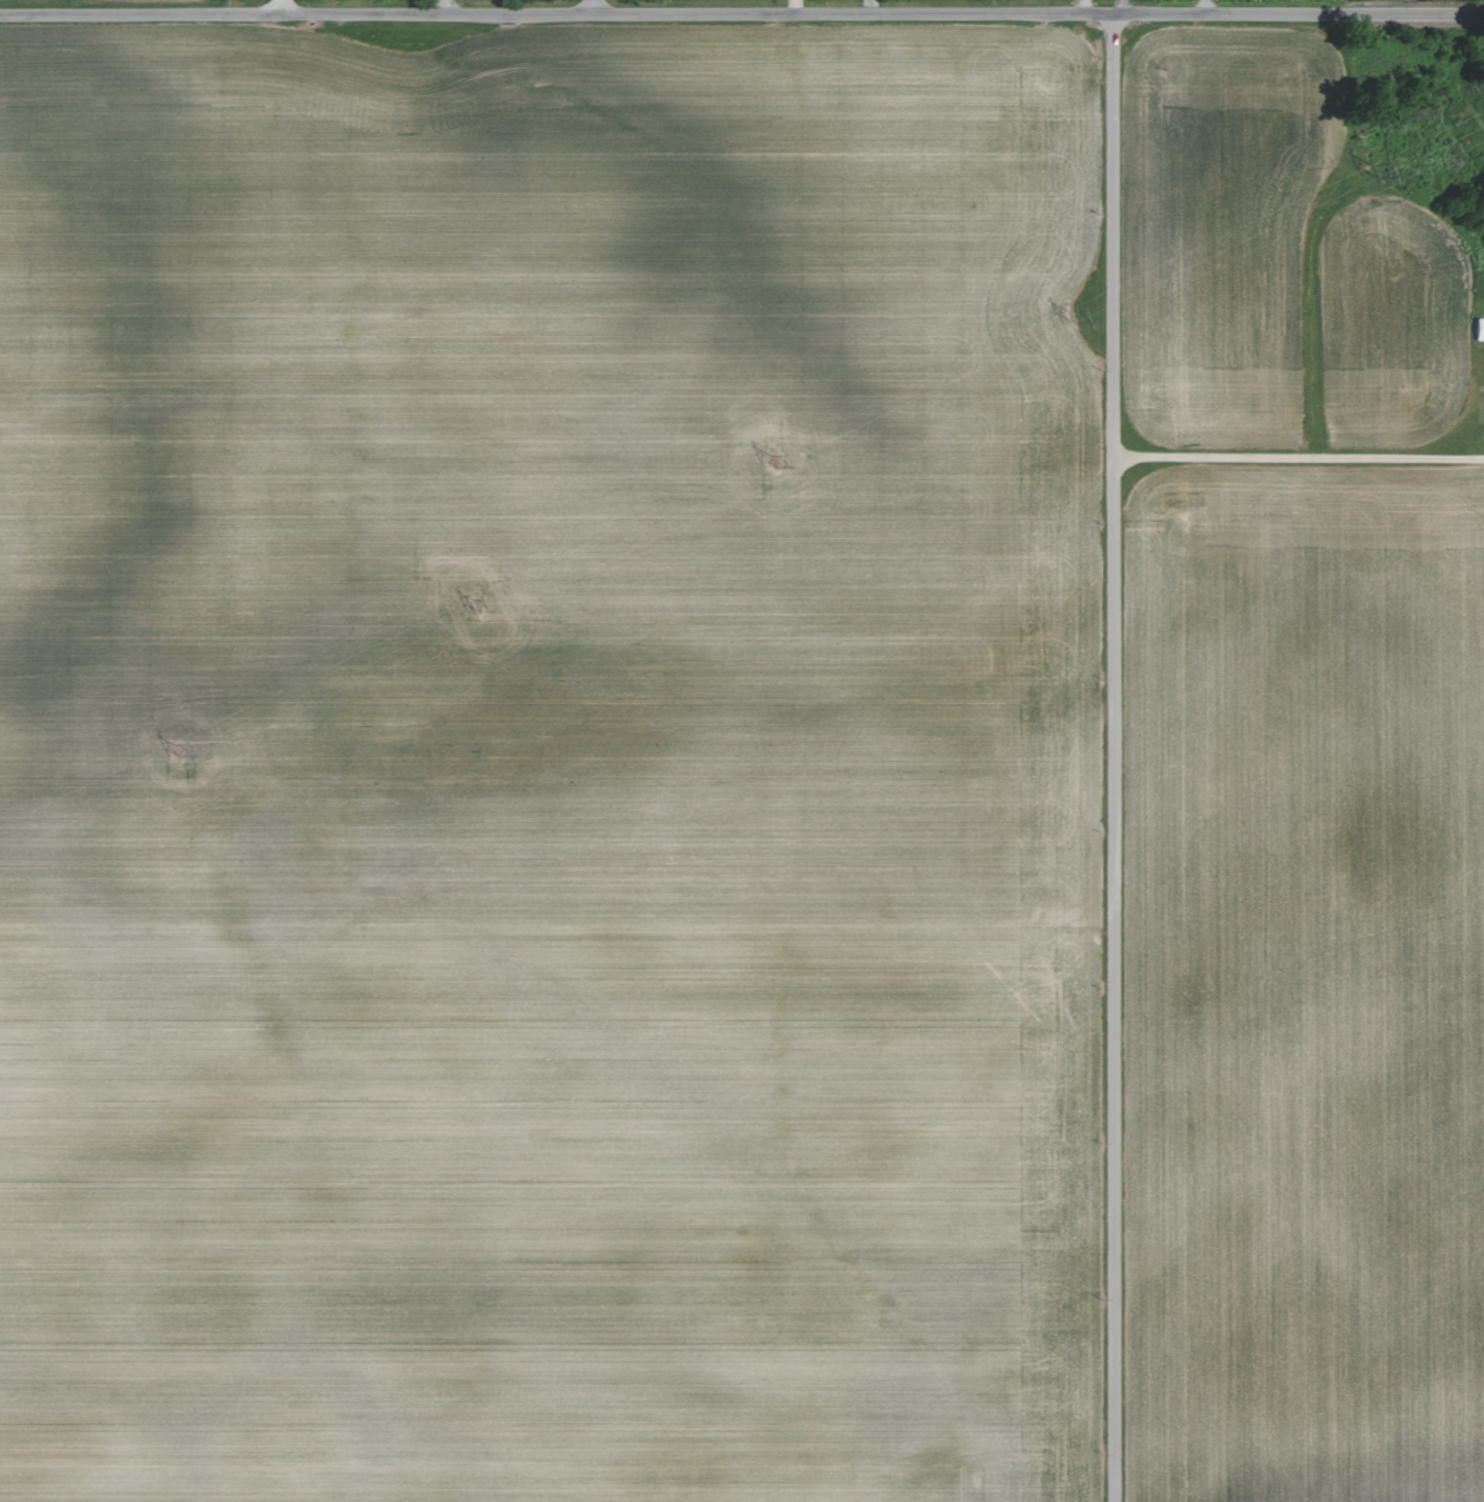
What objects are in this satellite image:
road: (277, 6)
road: (587, 6)
road: (1120, 7)
road: (1203, 7)
road: (442, 9)
road: (741, 13)
power tower: (1371, 168)
power tower: (1069, 318)
building: (1477, 328)
road: (1295, 454)
power tower: (772, 462)
power tower: (473, 605)
power tower: (176, 752)
road: (1112, 758)

